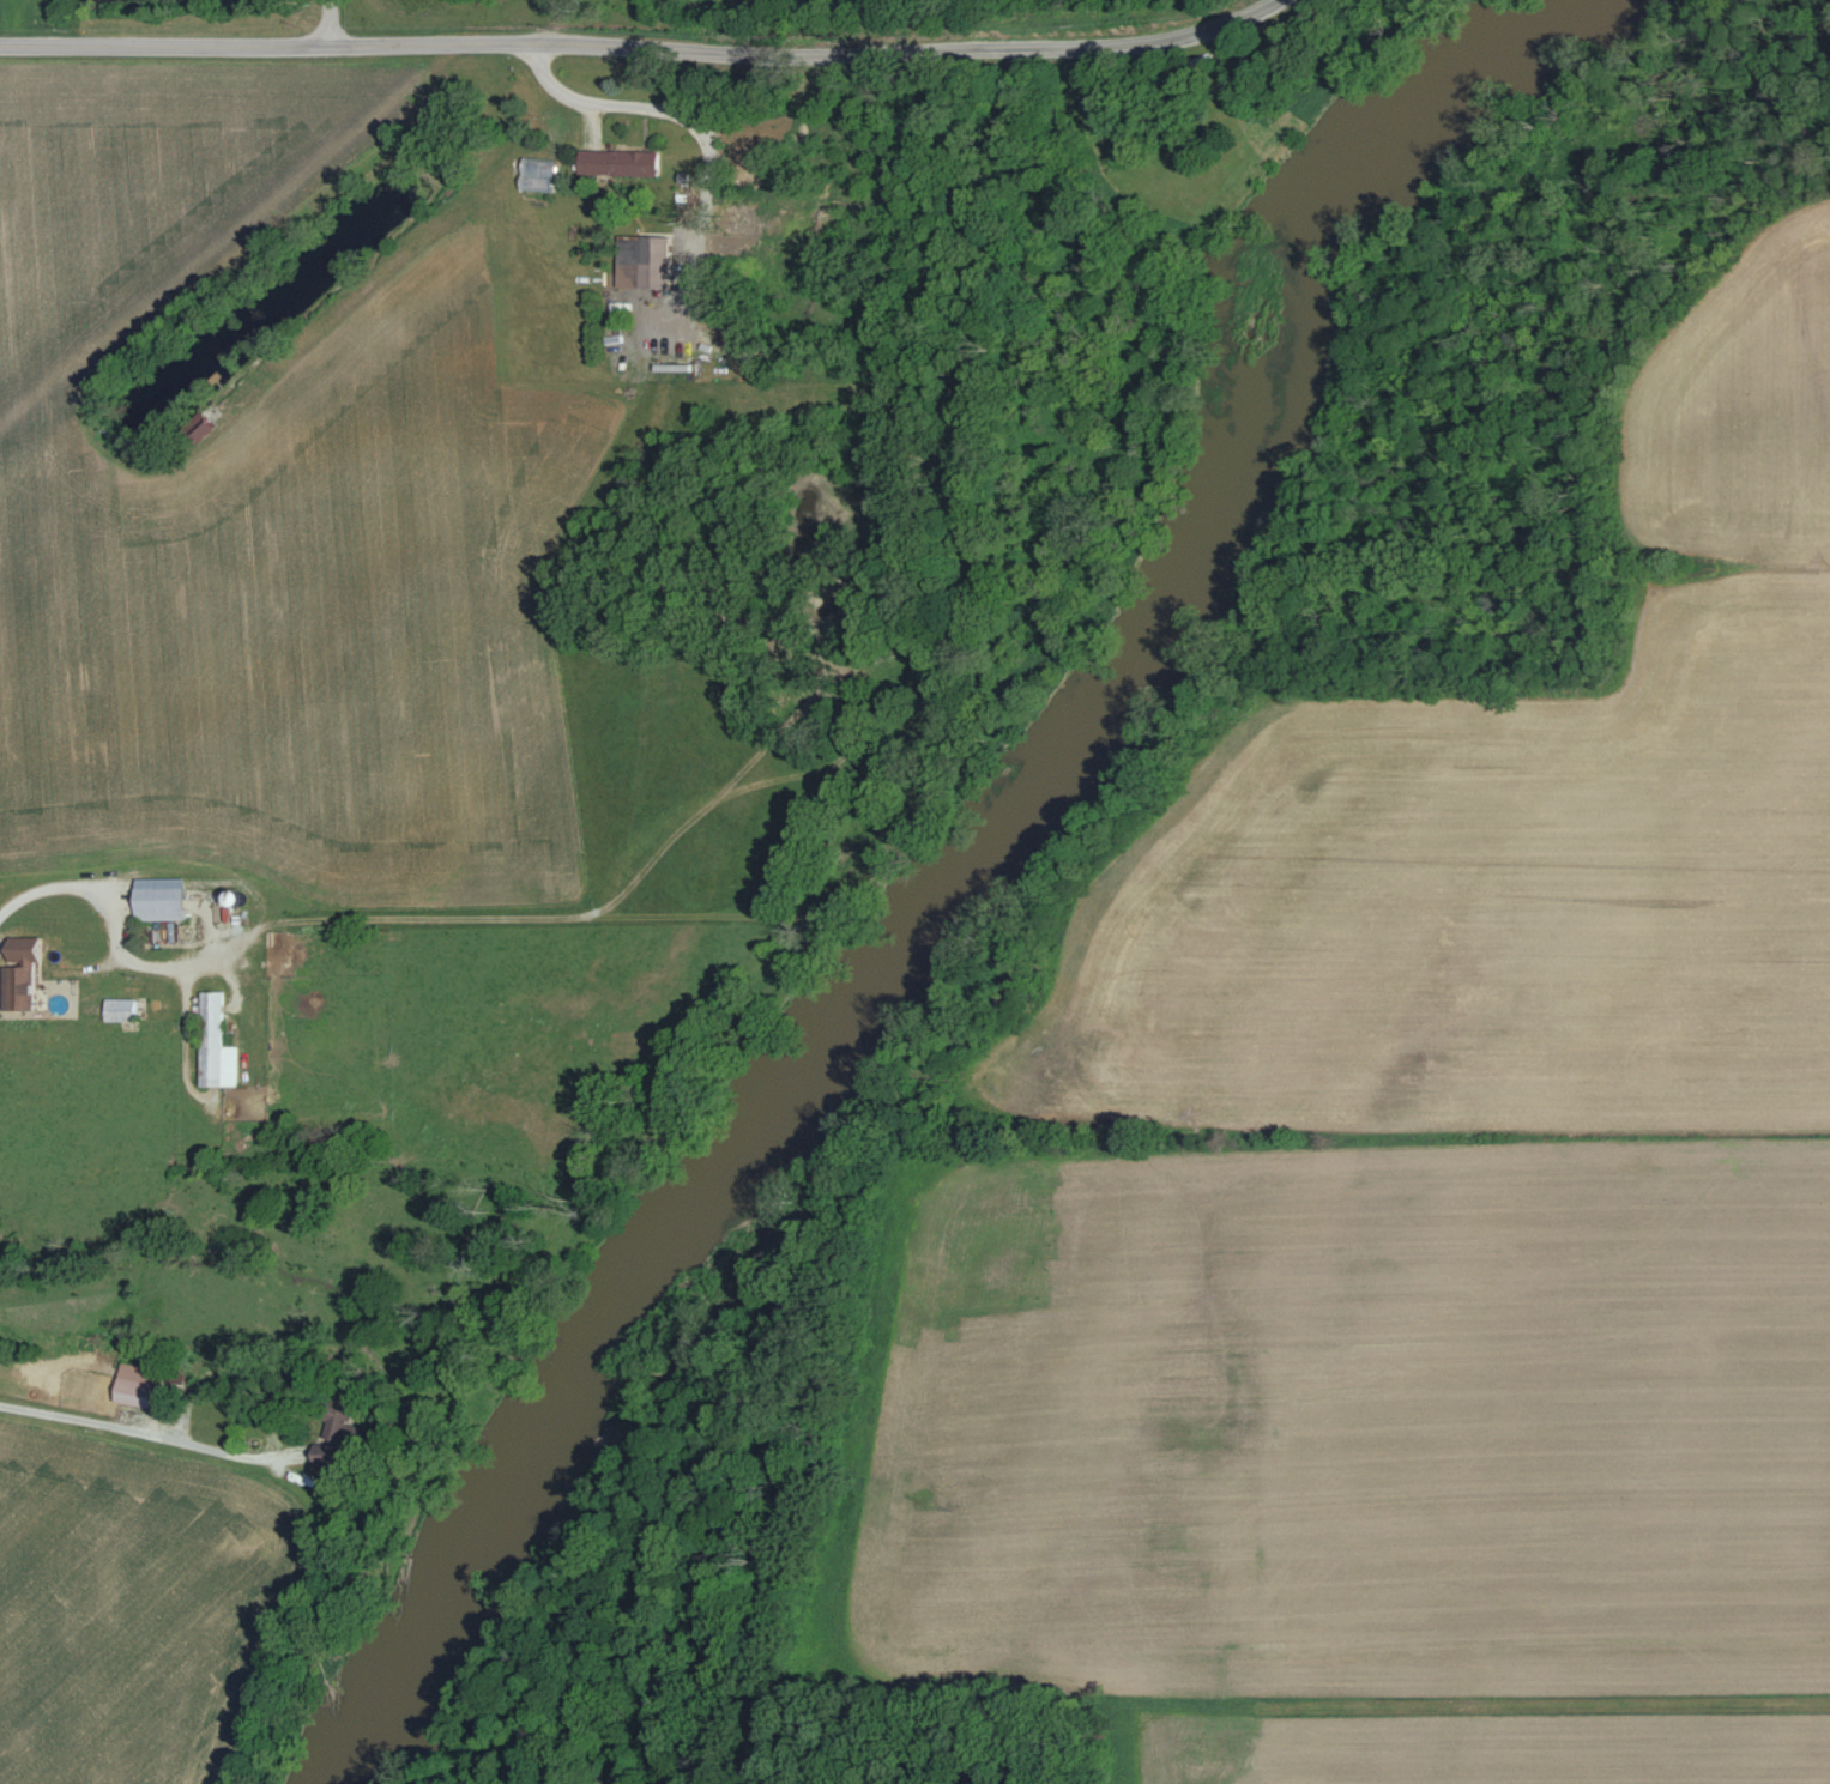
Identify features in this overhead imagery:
road: (331, 22)
road: (165, 44)
road: (804, 55)
road: (592, 125)
road: (695, 129)
building: (617, 161)
building: (534, 174)
building: (640, 261)
parking lot: (657, 325)
building: (669, 367)
building: (192, 427)
road: (1701, 579)
river: (973, 881)
building: (153, 897)
building: (16, 969)
building: (115, 1009)
building: (212, 1042)
building: (129, 1385)
building: (328, 1431)

